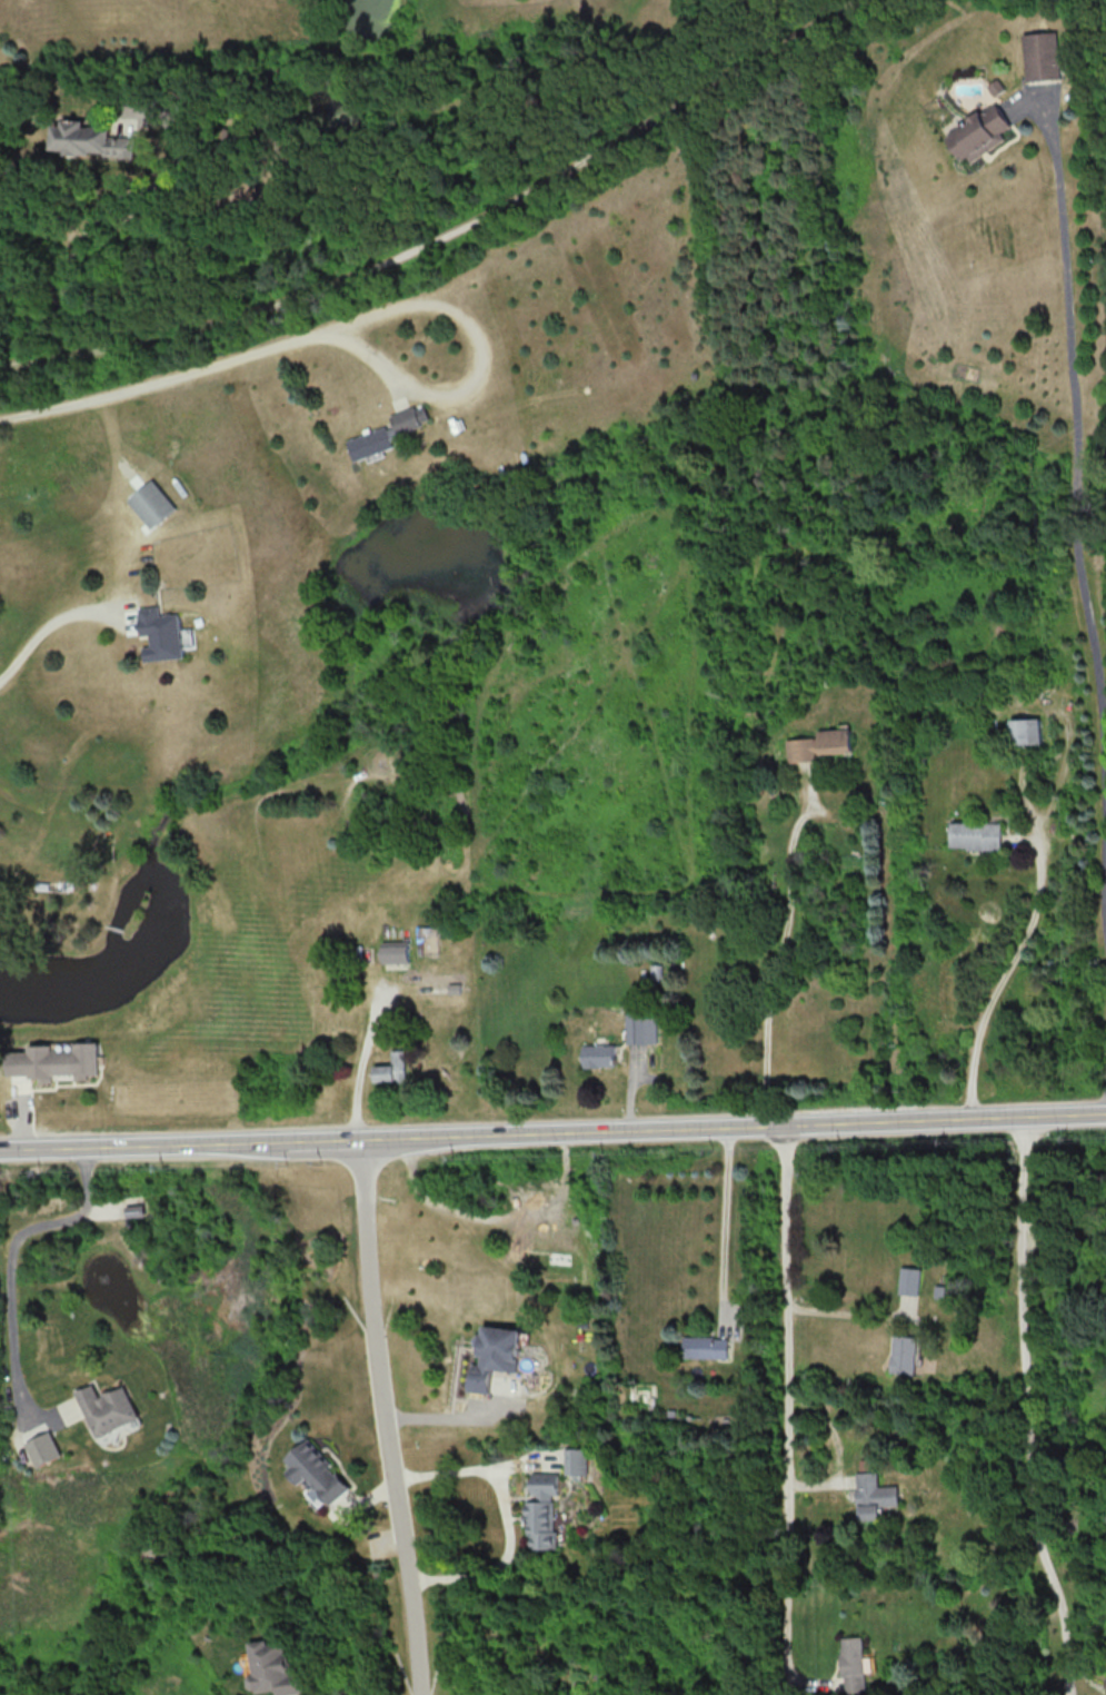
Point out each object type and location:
building: (1043, 56)
building: (996, 87)
building: (978, 132)
building: (90, 139)
park: (536, 184)
road: (112, 197)
road: (450, 232)
road: (474, 364)
road: (161, 383)
building: (387, 433)
building: (152, 503)
road: (1075, 517)
road: (50, 627)
building: (161, 633)
building: (1024, 731)
building: (835, 741)
building: (801, 749)
building: (974, 835)
building: (426, 938)
building: (395, 952)
road: (776, 963)
road: (1005, 982)
building: (640, 1027)
building: (598, 1055)
building: (54, 1061)
road: (366, 1067)
building: (391, 1068)
road: (552, 1134)
building: (134, 1210)
road: (726, 1229)
road: (10, 1251)
building: (908, 1280)
building: (705, 1347)
building: (903, 1354)
building: (495, 1356)
building: (106, 1408)
road: (1020, 1409)
road: (785, 1411)
road: (390, 1418)
building: (41, 1448)
building: (576, 1460)
building: (317, 1474)
building: (874, 1495)
building: (541, 1510)
road: (506, 1511)
building: (853, 1664)
building: (272, 1668)

